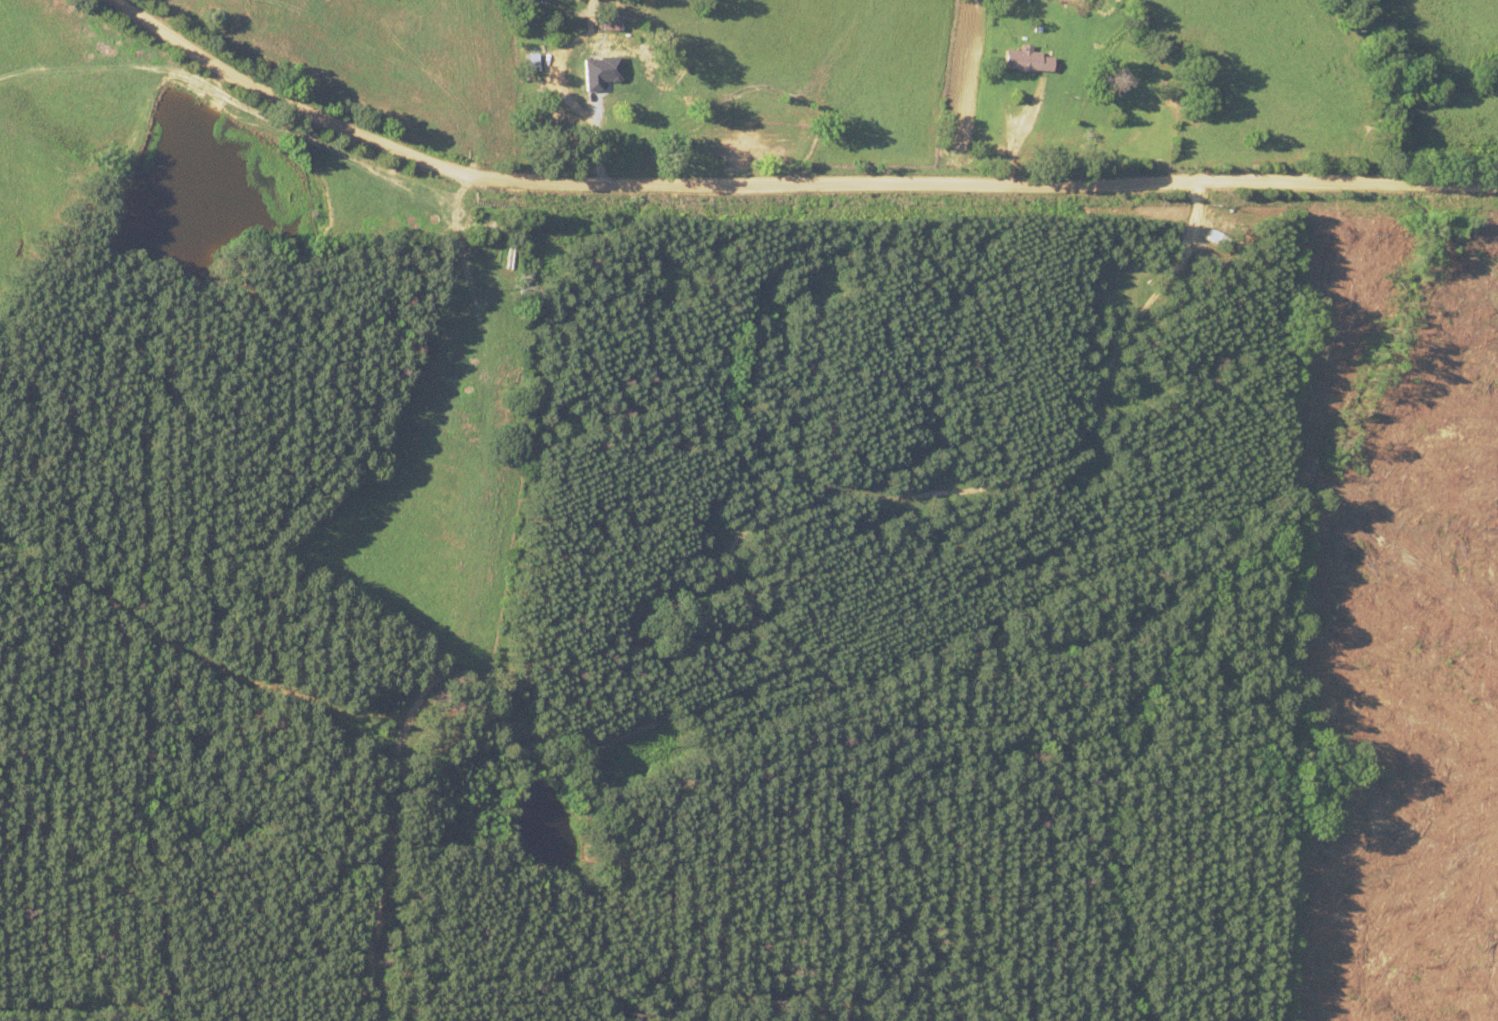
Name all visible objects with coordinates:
building: (528, 58)
building: (1026, 60)
building: (605, 69)
road: (780, 183)

